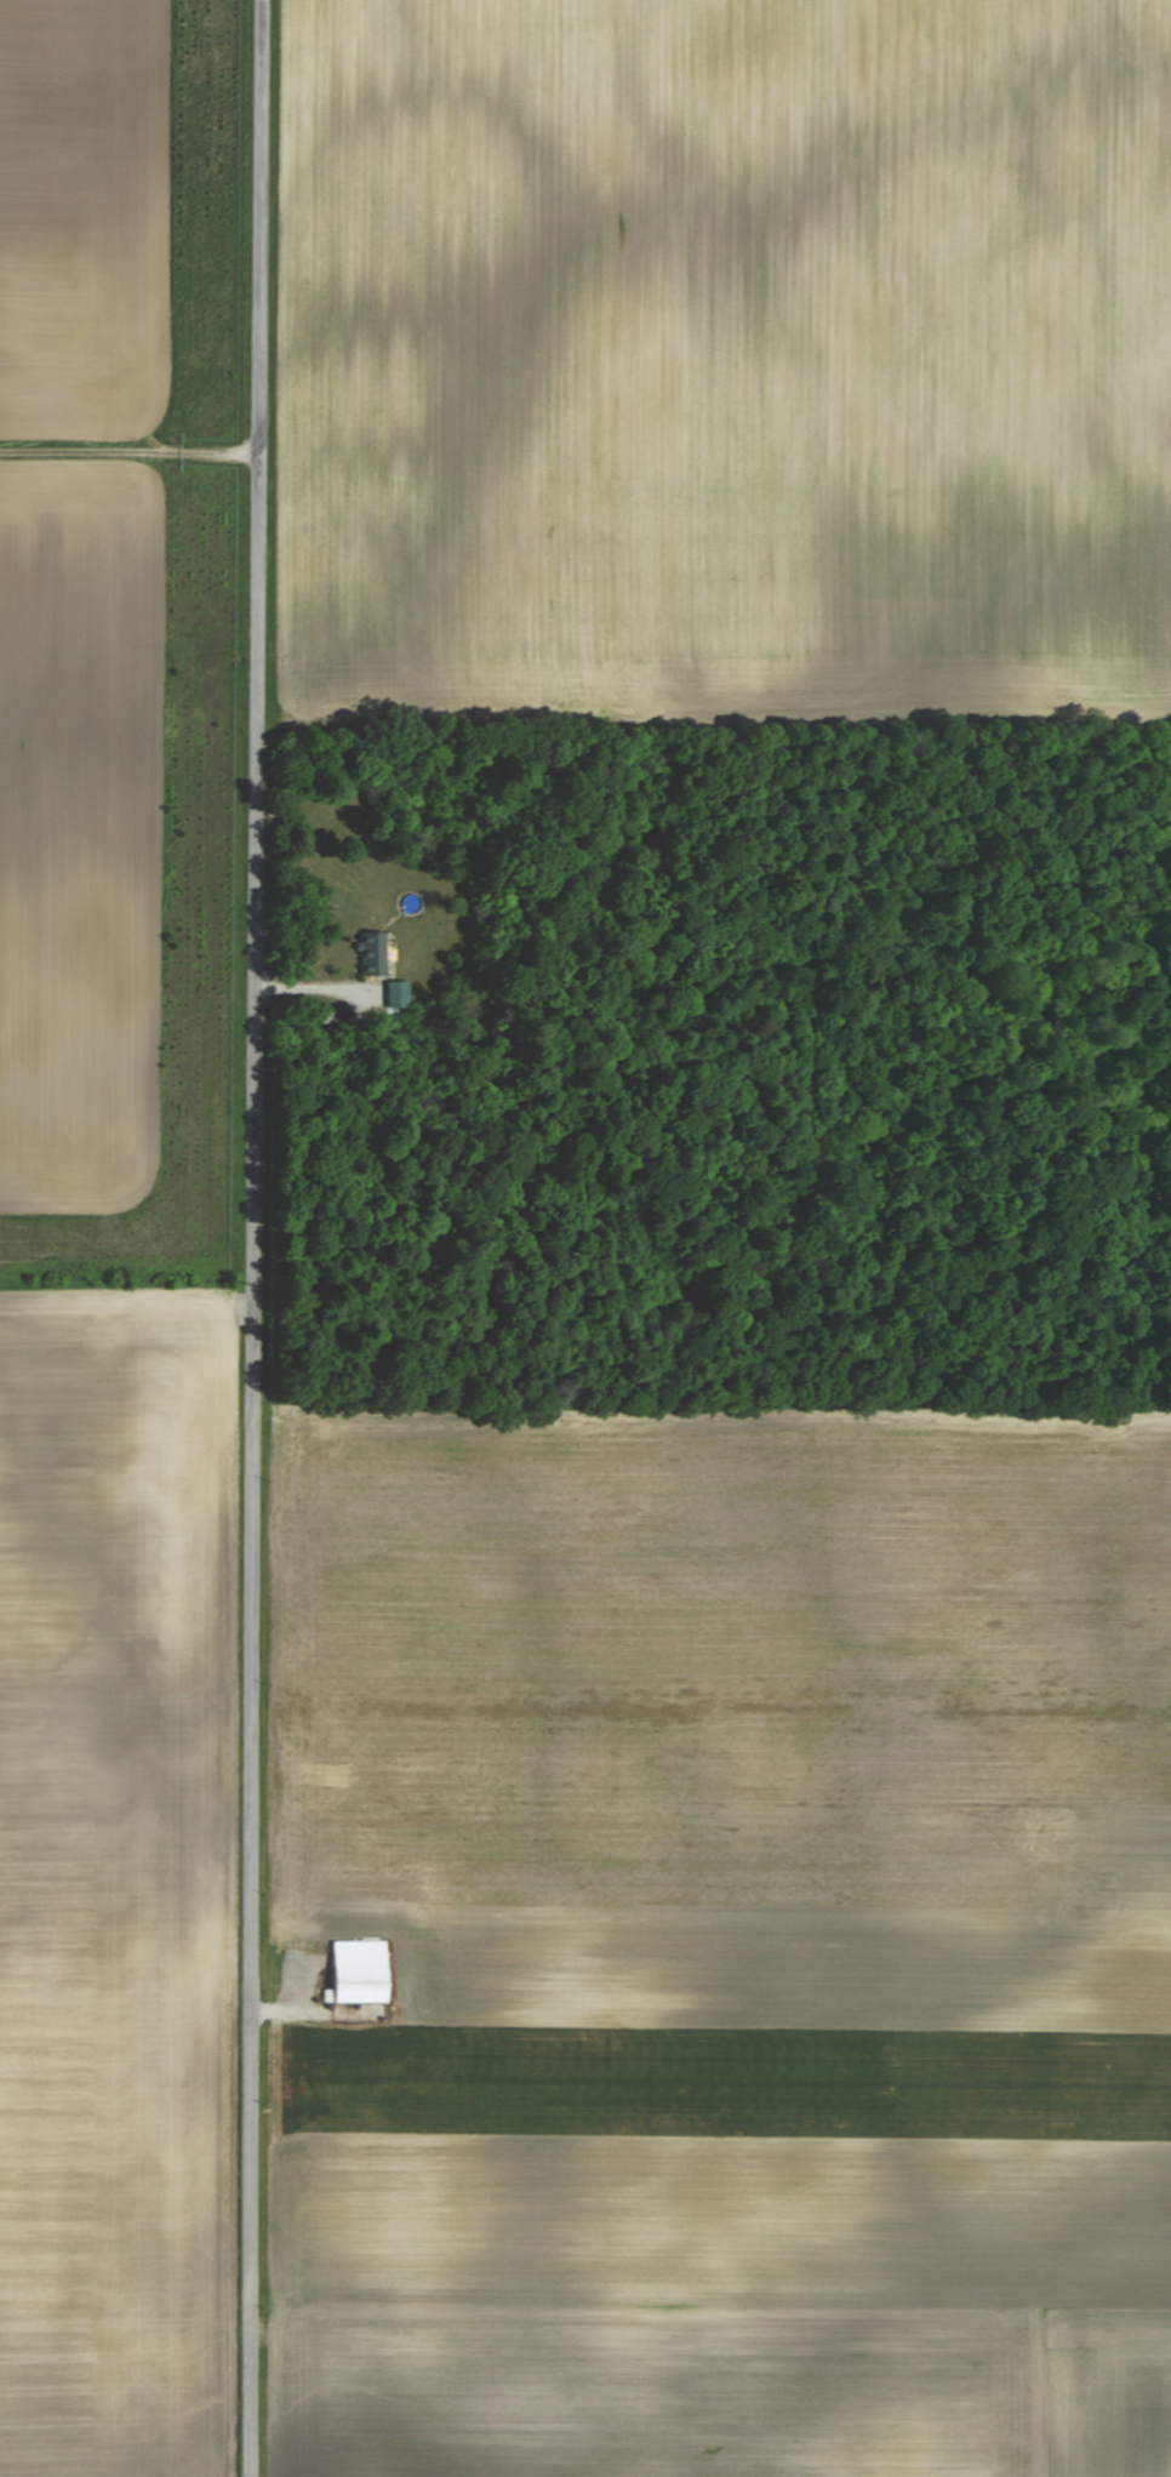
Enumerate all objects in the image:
road: (133, 440)
building: (372, 953)
road: (255, 1238)
building: (358, 1971)

